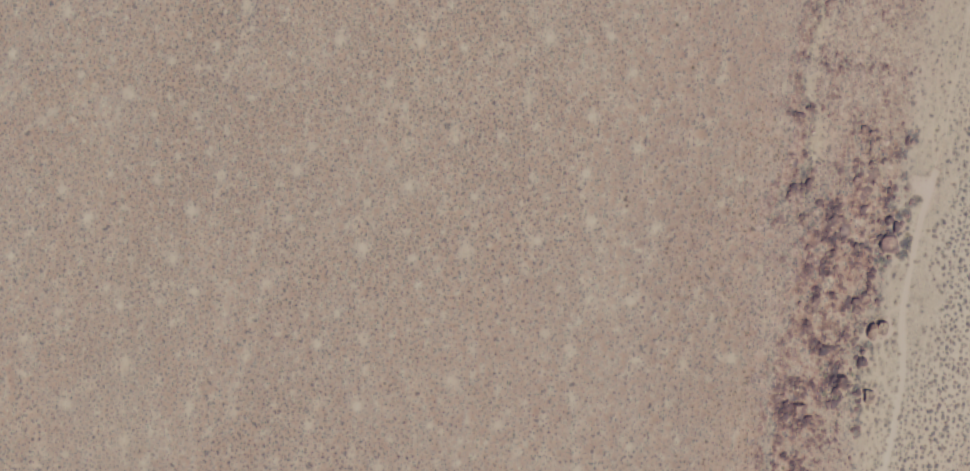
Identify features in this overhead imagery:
road: (925, 269)

